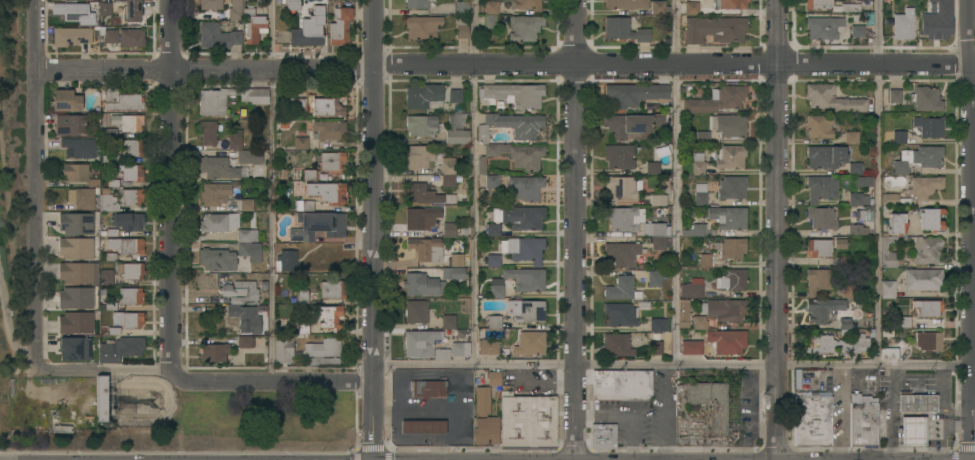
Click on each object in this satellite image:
building: (114, 0)
building: (433, 0)
building: (861, 0)
building: (121, 1)
building: (416, 3)
building: (730, 3)
building: (210, 4)
building: (626, 4)
building: (817, 4)
building: (293, 5)
building: (527, 5)
building: (461, 7)
building: (491, 7)
building: (658, 7)
building: (691, 7)
building: (105, 8)
building: (847, 8)
building: (235, 9)
building: (247, 9)
building: (132, 10)
building: (71, 11)
building: (490, 21)
building: (938, 21)
road: (970, 25)
building: (340, 26)
building: (423, 26)
building: (462, 26)
building: (902, 26)
building: (524, 27)
building: (824, 27)
building: (255, 29)
building: (309, 29)
building: (624, 29)
building: (715, 29)
building: (857, 31)
building: (110, 35)
building: (71, 36)
building: (218, 36)
building: (131, 37)
road: (506, 66)
building: (636, 93)
building: (513, 94)
building: (424, 95)
building: (455, 95)
building: (894, 95)
building: (833, 98)
building: (926, 98)
building: (716, 99)
building: (65, 100)
building: (122, 100)
building: (212, 101)
building: (297, 104)
building: (327, 107)
building: (127, 122)
building: (632, 123)
building: (69, 124)
building: (421, 125)
building: (728, 125)
building: (819, 126)
building: (929, 126)
building: (329, 129)
building: (456, 129)
building: (108, 132)
building: (207, 132)
building: (702, 137)
building: (851, 137)
building: (899, 137)
building: (234, 139)
building: (300, 142)
building: (496, 145)
building: (80, 148)
building: (131, 148)
building: (249, 156)
building: (618, 156)
building: (731, 156)
building: (825, 156)
building: (418, 157)
building: (110, 158)
building: (915, 159)
building: (331, 161)
building: (698, 163)
building: (448, 165)
building: (221, 168)
building: (652, 168)
building: (855, 168)
building: (130, 172)
building: (78, 173)
building: (309, 175)
building: (448, 180)
building: (863, 181)
road: (36, 182)
road: (476, 182)
building: (491, 182)
road: (678, 182)
road: (880, 183)
road: (171, 185)
building: (923, 186)
building: (525, 187)
building: (732, 187)
park: (13, 188)
building: (621, 188)
building: (821, 188)
road: (273, 191)
building: (326, 191)
road: (372, 191)
building: (214, 193)
building: (421, 194)
building: (700, 194)
building: (132, 196)
building: (81, 198)
building: (857, 199)
building: (893, 199)
building: (658, 200)
building: (107, 203)
building: (245, 204)
building: (307, 205)
building: (860, 214)
building: (420, 217)
building: (519, 217)
building: (728, 217)
building: (622, 218)
building: (821, 218)
building: (930, 219)
building: (128, 221)
building: (218, 222)
building: (75, 223)
building: (318, 225)
building: (449, 229)
building: (493, 229)
road: (575, 230)
building: (694, 230)
road: (777, 230)
building: (857, 230)
building: (108, 232)
building: (247, 235)
building: (660, 236)
building: (911, 240)
building: (840, 243)
building: (126, 245)
building: (75, 248)
building: (730, 248)
building: (819, 248)
building: (426, 249)
building: (523, 249)
building: (249, 251)
building: (622, 254)
building: (220, 260)
building: (286, 260)
building: (455, 260)
building: (493, 260)
building: (705, 260)
building: (842, 262)
building: (131, 270)
building: (78, 272)
building: (452, 273)
building: (106, 277)
building: (526, 278)
building: (654, 279)
building: (922, 279)
building: (732, 280)
building: (817, 281)
building: (422, 285)
building: (621, 288)
building: (692, 288)
building: (332, 289)
building: (887, 289)
building: (241, 290)
building: (846, 290)
building: (496, 291)
building: (130, 296)
building: (302, 296)
building: (75, 297)
building: (111, 306)
building: (929, 308)
building: (723, 309)
building: (683, 310)
building: (820, 310)
building: (417, 311)
building: (527, 311)
building: (621, 314)
building: (328, 315)
building: (246, 317)
building: (845, 318)
building: (128, 319)
building: (494, 321)
building: (904, 321)
building: (75, 322)
building: (448, 322)
building: (699, 322)
road: (8, 328)
building: (297, 328)
building: (104, 329)
building: (115, 331)
building: (657, 334)
building: (245, 341)
building: (727, 341)
building: (928, 341)
building: (419, 343)
building: (529, 343)
building: (836, 344)
building: (617, 345)
building: (487, 346)
building: (323, 347)
building: (691, 347)
building: (74, 348)
building: (120, 349)
building: (460, 349)
building: (283, 350)
building: (213, 352)
building: (890, 352)
building: (441, 354)
road: (673, 366)
road: (201, 382)
road: (536, 384)
building: (621, 384)
building: (428, 389)
building: (487, 392)
road: (939, 393)
building: (101, 398)
building: (916, 402)
building: (710, 403)
road: (665, 413)
road: (887, 413)
building: (812, 419)
building: (863, 419)
road: (371, 420)
building: (527, 420)
road: (938, 422)
building: (423, 427)
building: (62, 428)
building: (486, 430)
building: (912, 430)
building: (603, 436)
traffic signals: (371, 440)

